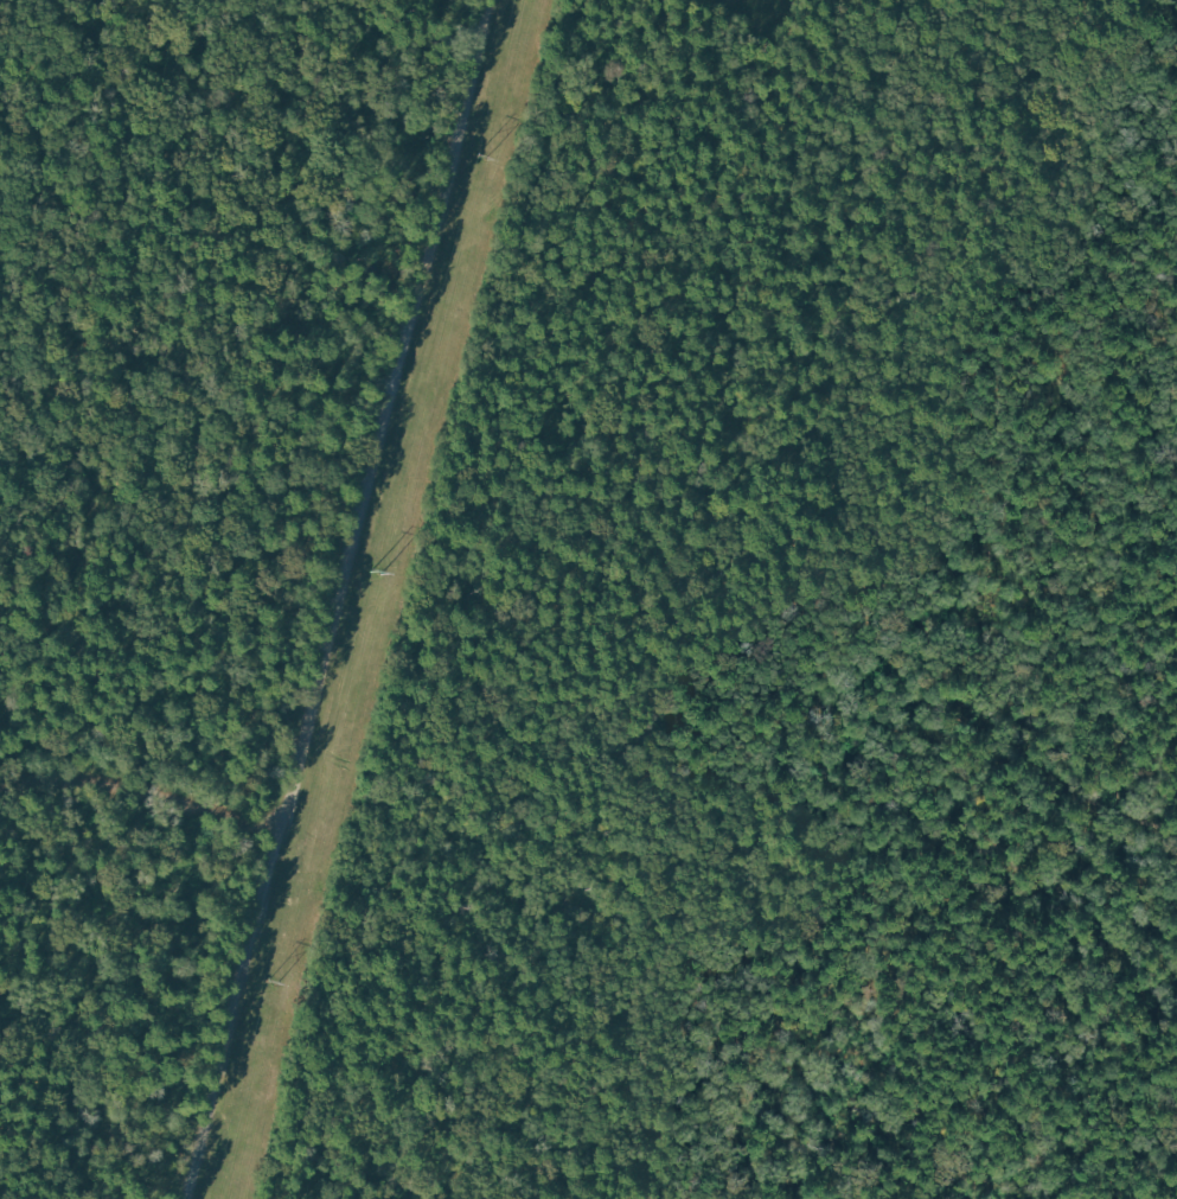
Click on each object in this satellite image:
power tower: (481, 158)
road: (840, 463)
power tower: (377, 575)
road: (340, 599)
road: (142, 791)
power tower: (270, 983)

